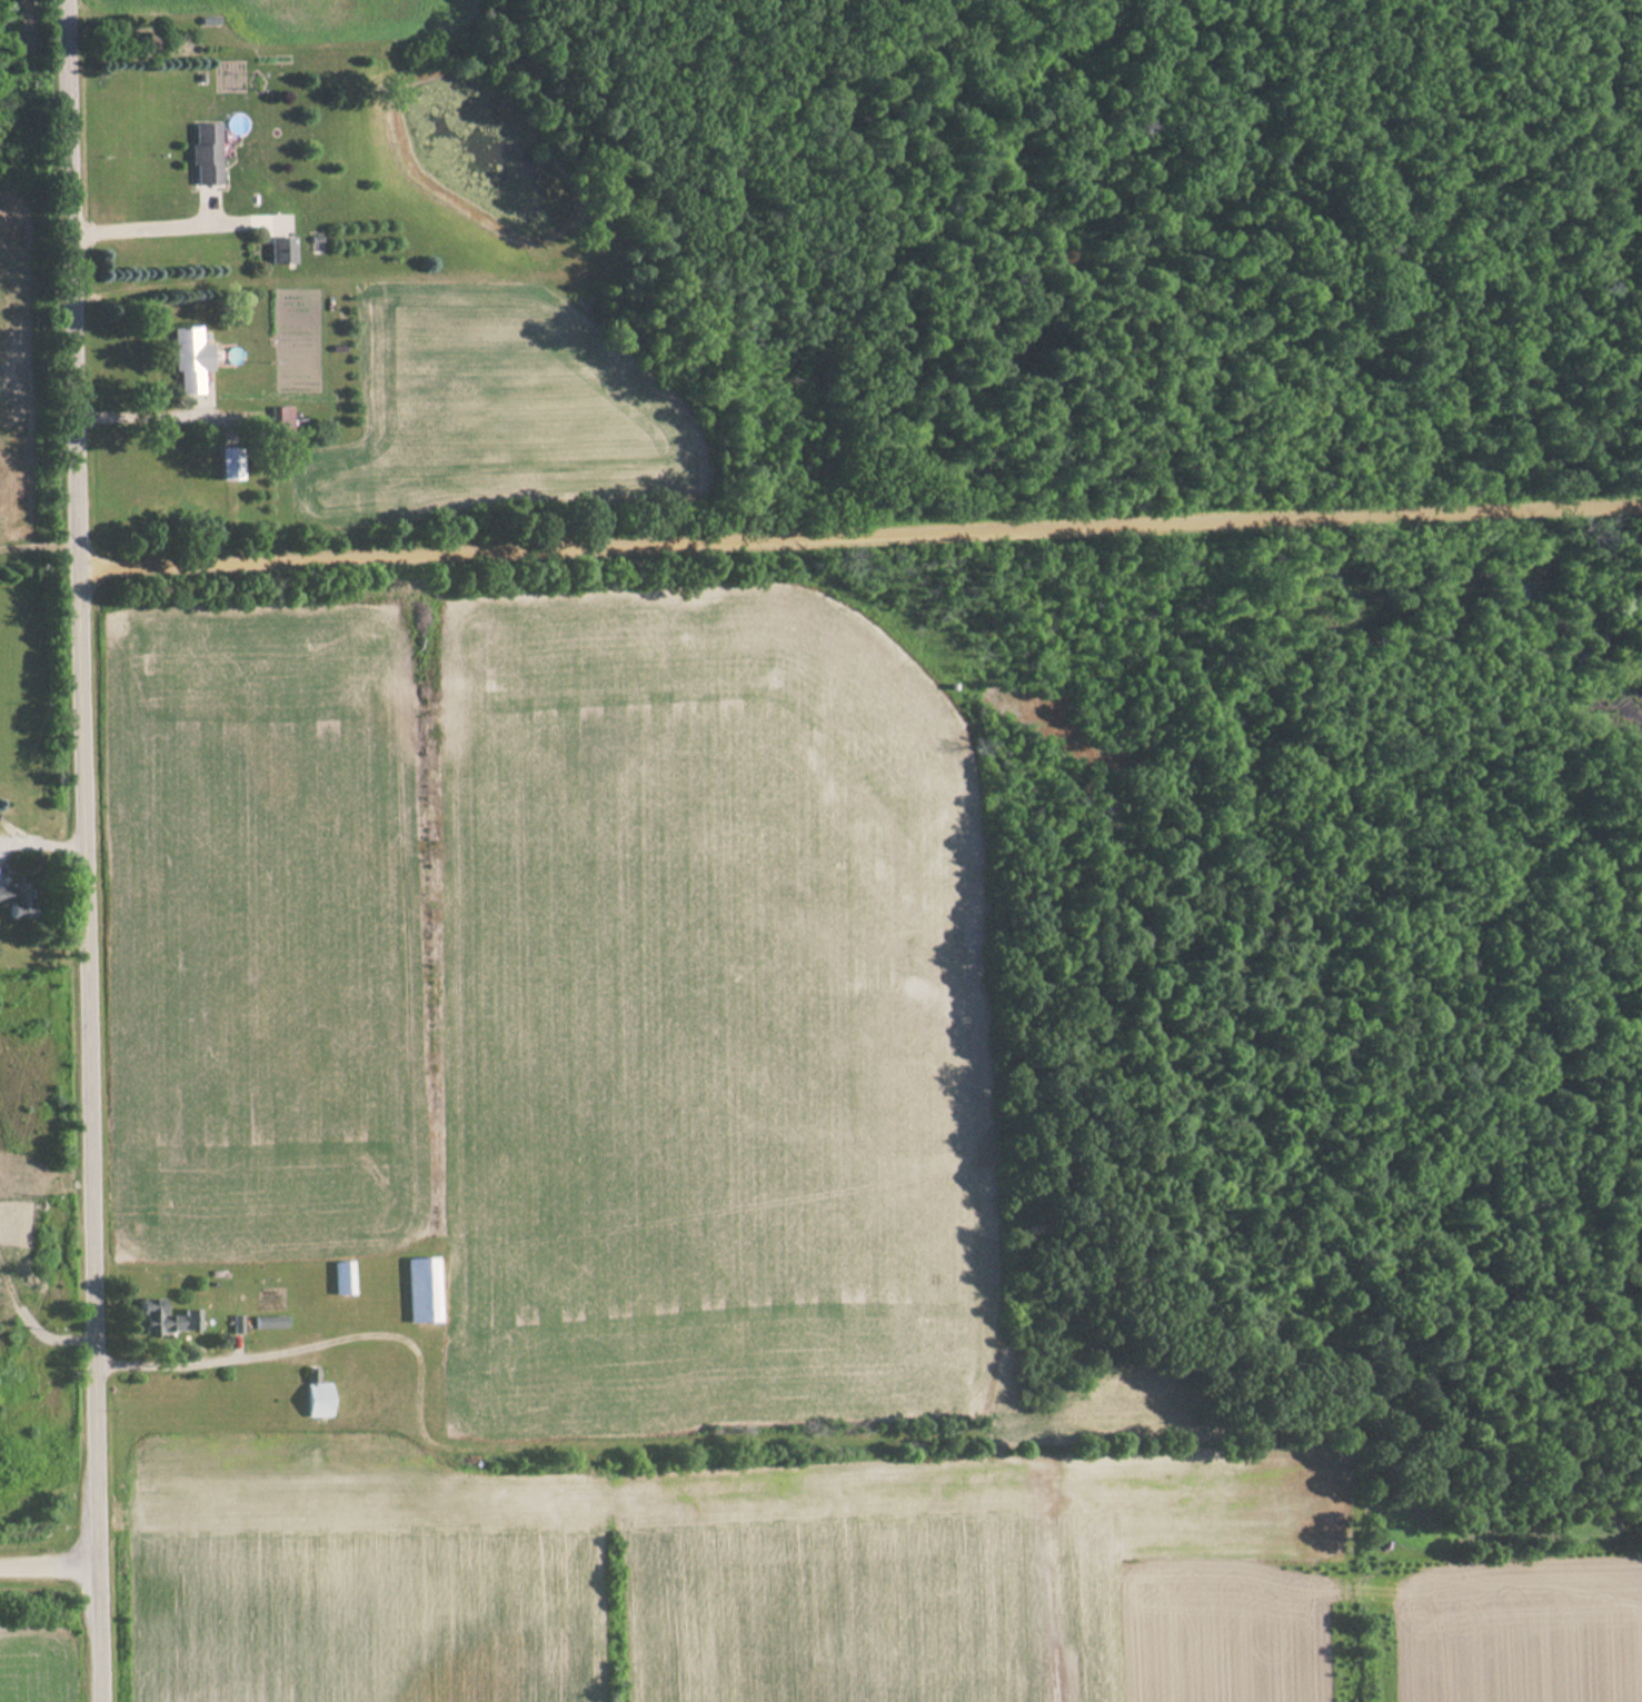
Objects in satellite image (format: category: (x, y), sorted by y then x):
building: (205, 153)
building: (280, 250)
building: (187, 359)
building: (281, 422)
building: (228, 464)
road: (857, 547)
road: (79, 850)
building: (14, 900)
building: (341, 1278)
building: (421, 1291)
building: (163, 1320)
building: (316, 1397)

